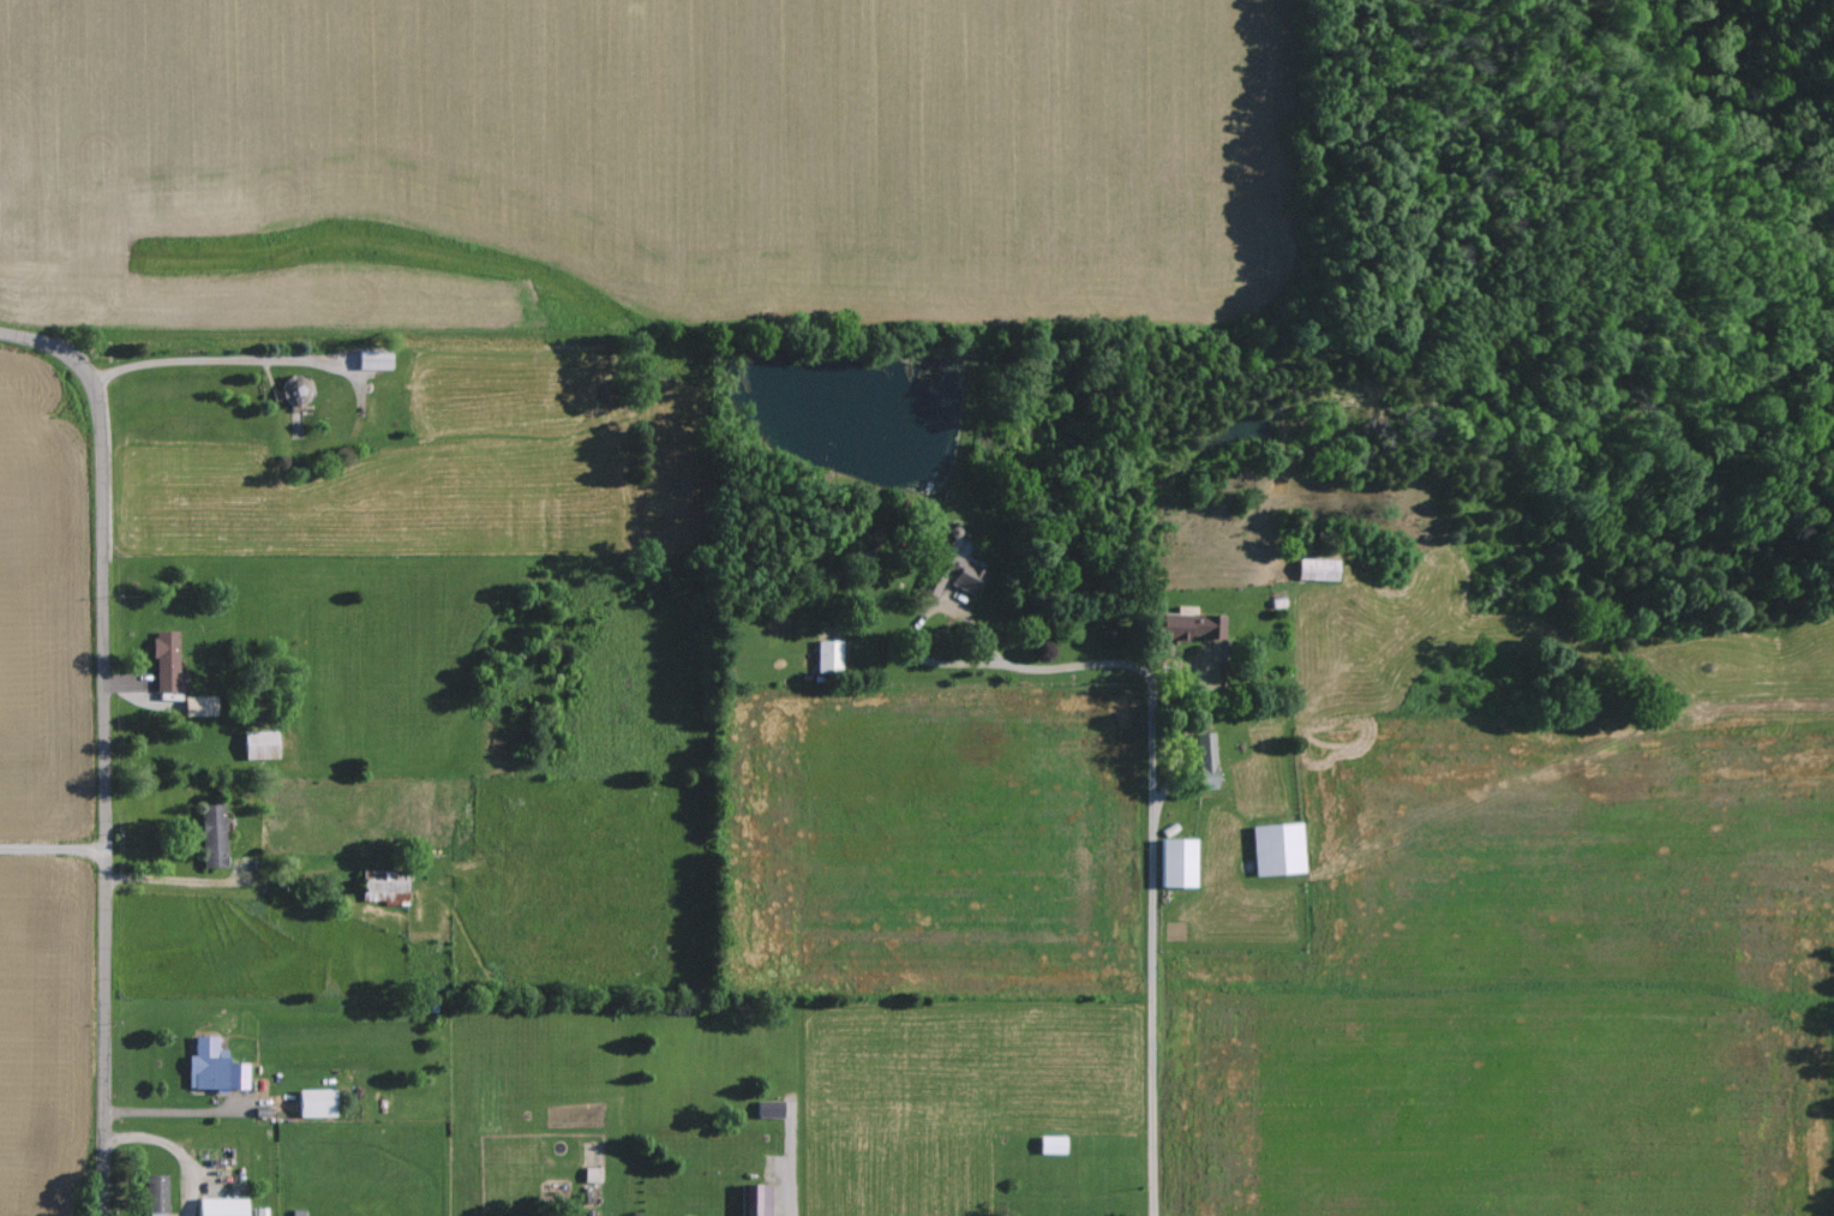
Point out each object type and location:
building: (373, 360)
road: (210, 367)
building: (960, 574)
building: (1189, 628)
building: (827, 657)
building: (166, 664)
road: (1147, 679)
building: (259, 744)
road: (100, 748)
building: (1204, 755)
building: (211, 835)
building: (1276, 849)
road: (50, 853)
building: (1176, 862)
road: (184, 886)
building: (383, 886)
road: (1149, 999)
building: (212, 1067)
building: (316, 1103)
building: (768, 1109)
road: (167, 1118)
building: (1050, 1145)
road: (172, 1150)
building: (155, 1194)
building: (756, 1200)
building: (221, 1206)

